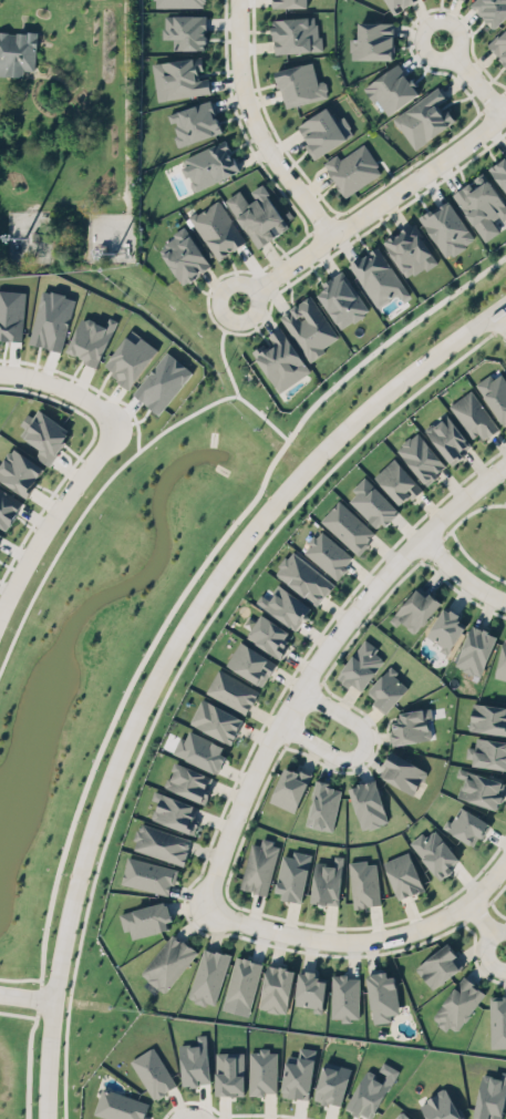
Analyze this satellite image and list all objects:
building: (179, 2)
building: (290, 3)
building: (397, 4)
building: (490, 10)
building: (185, 30)
building: (296, 33)
building: (373, 41)
building: (499, 44)
building: (17, 51)
road: (472, 75)
building: (179, 78)
building: (300, 84)
building: (390, 86)
building: (424, 117)
building: (195, 122)
road: (257, 129)
building: (324, 131)
building: (206, 163)
building: (352, 168)
building: (499, 171)
building: (482, 204)
road: (372, 207)
building: (258, 215)
building: (444, 226)
building: (217, 228)
building: (410, 250)
building: (184, 256)
building: (378, 275)
building: (341, 299)
building: (11, 314)
building: (50, 316)
road: (500, 319)
building: (309, 326)
building: (91, 339)
building: (130, 357)
building: (281, 360)
building: (161, 378)
building: (495, 393)
building: (474, 415)
building: (44, 433)
building: (447, 437)
building: (422, 458)
road: (86, 460)
building: (19, 470)
building: (397, 481)
building: (373, 503)
building: (8, 507)
building: (348, 526)
building: (0, 533)
building: (328, 554)
road: (190, 571)
road: (459, 574)
building: (303, 577)
building: (286, 606)
building: (416, 608)
road: (188, 613)
building: (445, 628)
building: (269, 635)
building: (476, 650)
building: (500, 658)
road: (317, 660)
building: (250, 663)
building: (361, 666)
building: (231, 690)
building: (388, 690)
building: (487, 718)
building: (216, 721)
building: (411, 726)
building: (198, 747)
road: (362, 749)
building: (487, 752)
building: (403, 772)
building: (186, 779)
building: (287, 786)
building: (481, 789)
building: (368, 804)
building: (323, 805)
building: (174, 811)
building: (466, 825)
building: (161, 843)
building: (435, 852)
building: (260, 866)
building: (291, 871)
building: (148, 874)
building: (403, 875)
building: (327, 882)
building: (364, 883)
building: (143, 915)
road: (486, 925)
road: (365, 940)
building: (440, 962)
building: (166, 963)
building: (209, 975)
building: (241, 985)
building: (277, 985)
building: (310, 985)
building: (383, 992)
building: (344, 993)
road: (27, 994)
building: (458, 1000)
road: (25, 1014)
building: (497, 1018)
building: (195, 1061)
building: (227, 1068)
building: (152, 1069)
building: (262, 1070)
building: (299, 1072)
road: (42, 1076)
building: (331, 1080)
building: (371, 1090)
building: (489, 1092)
building: (118, 1105)
building: (442, 1106)
building: (403, 1115)

